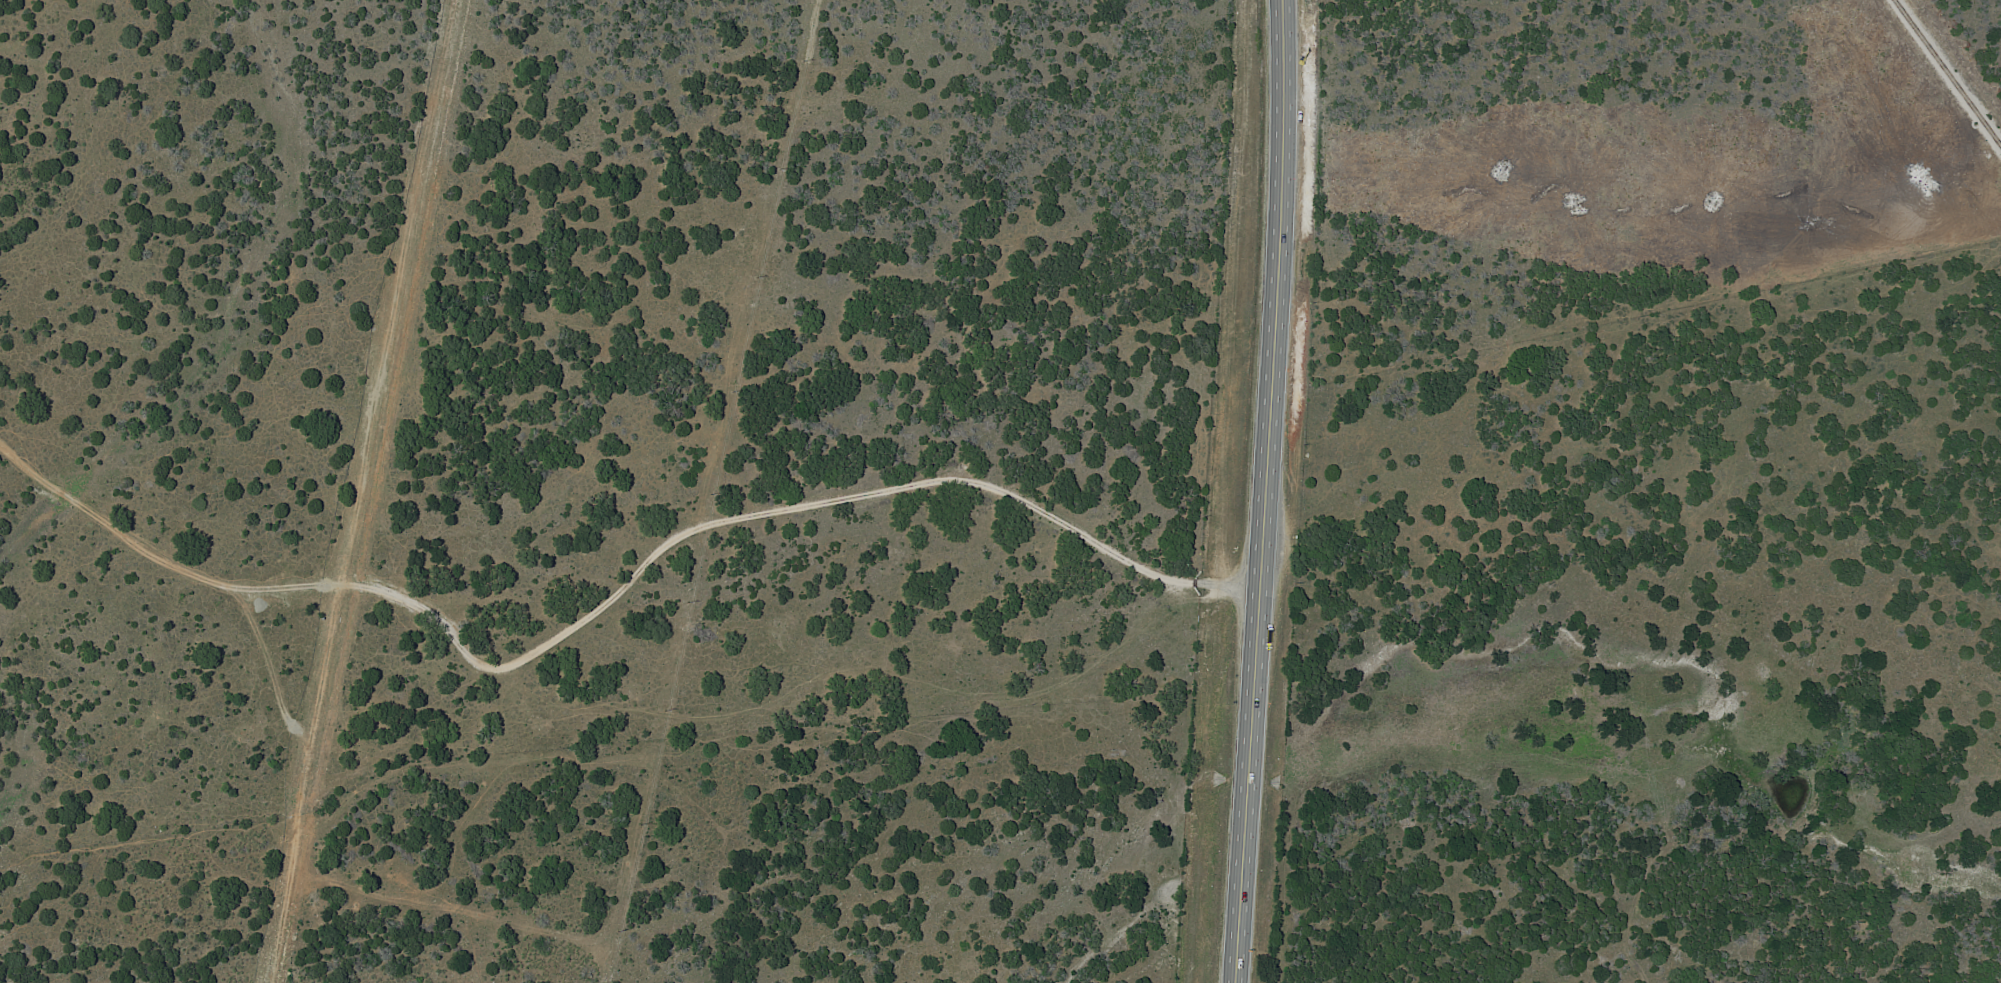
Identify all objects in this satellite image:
railway: (1948, 73)
road: (1253, 491)
road: (607, 600)

